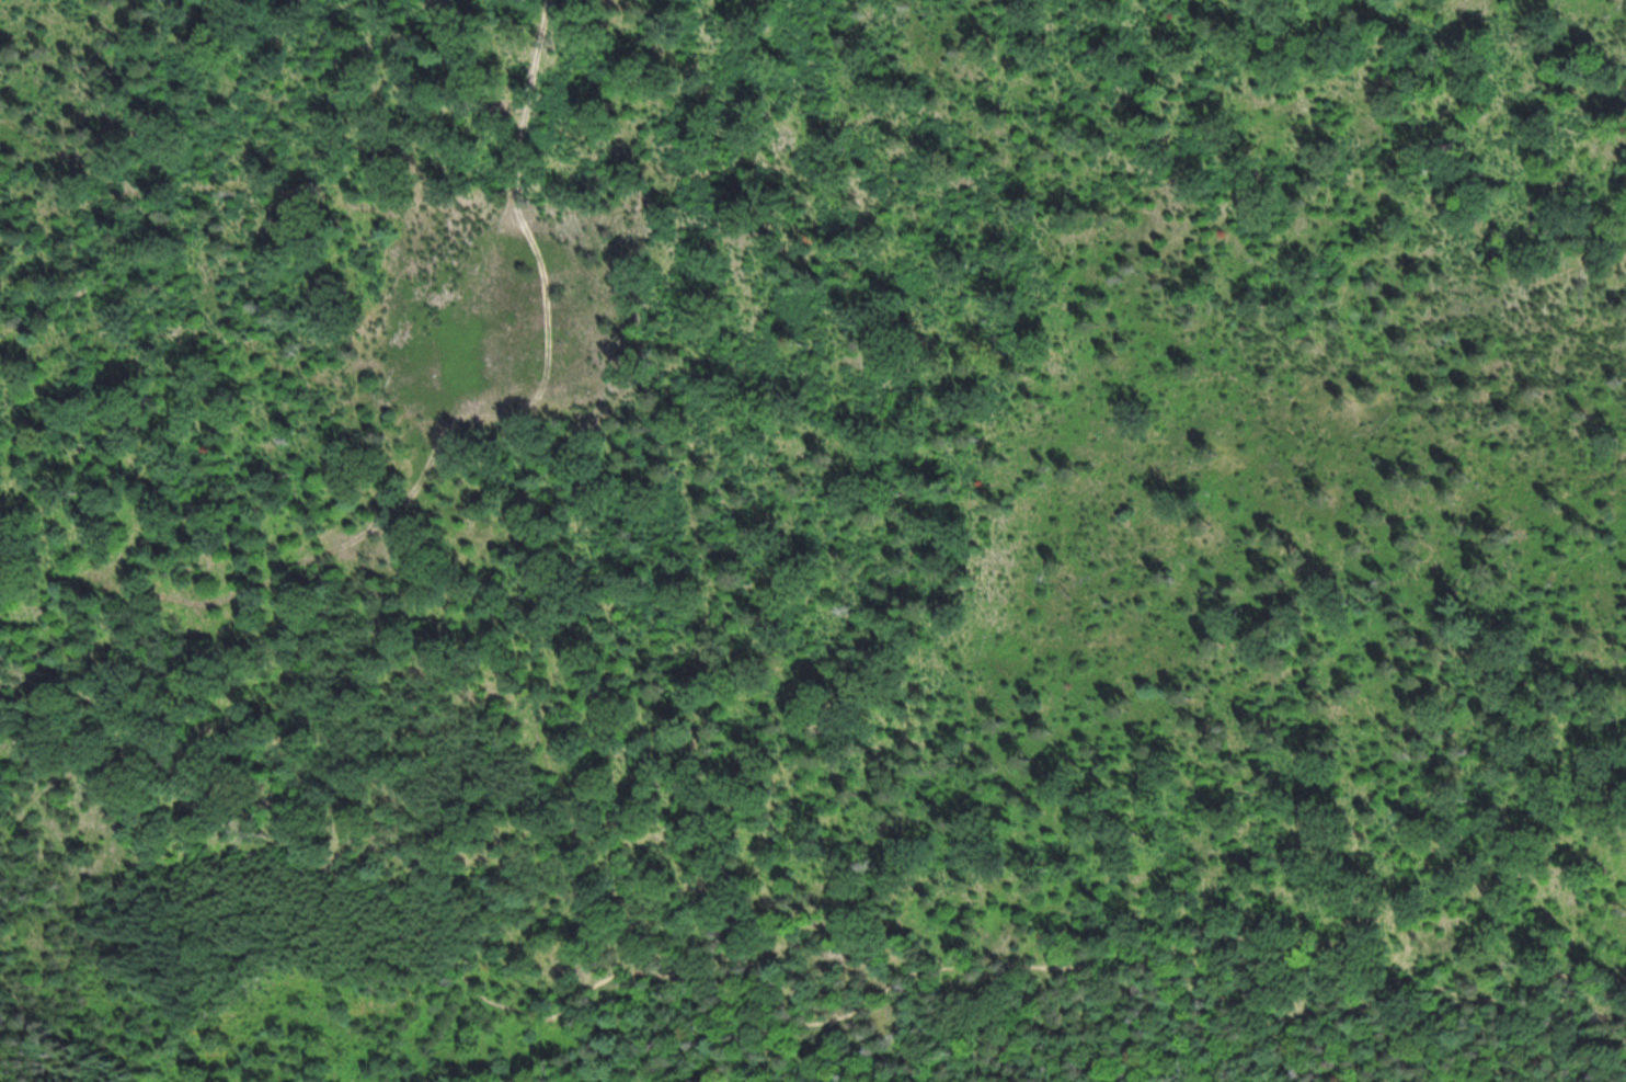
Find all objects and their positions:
road: (528, 107)
road: (754, 1005)
road: (25, 1034)
road: (461, 1078)

